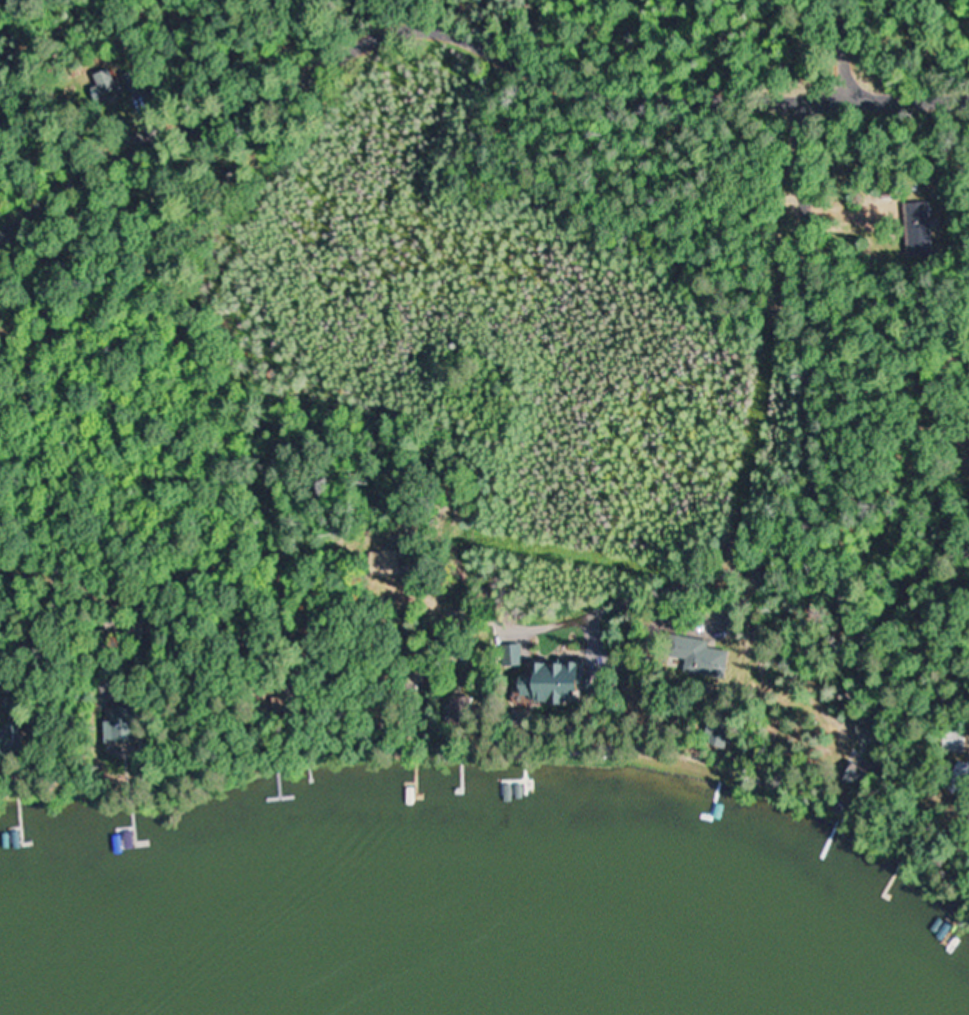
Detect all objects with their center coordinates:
road: (384, 25)
road: (842, 48)
building: (108, 84)
road: (887, 97)
building: (919, 230)
road: (814, 338)
building: (393, 562)
building: (148, 632)
building: (698, 656)
building: (547, 682)
building: (123, 724)
building: (18, 732)
building: (956, 741)
building: (854, 774)
building: (958, 778)

